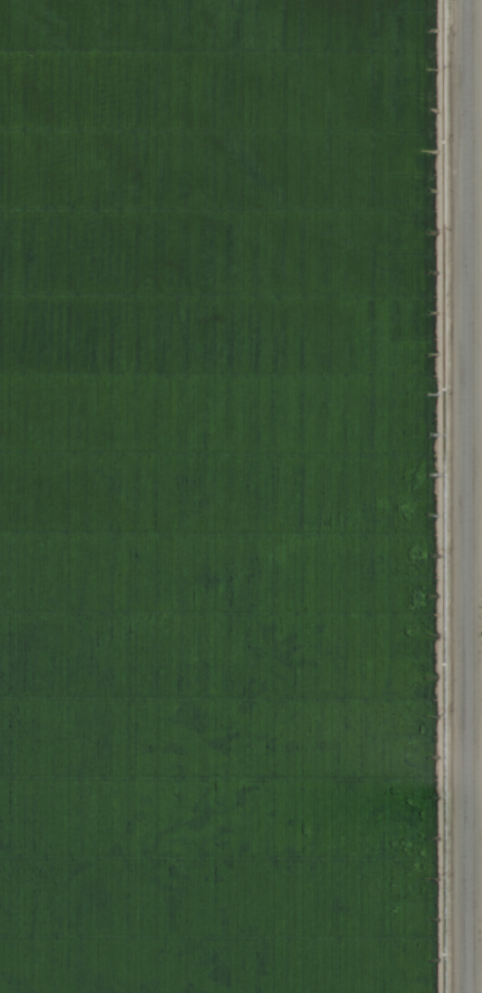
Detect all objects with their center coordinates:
road: (468, 496)

